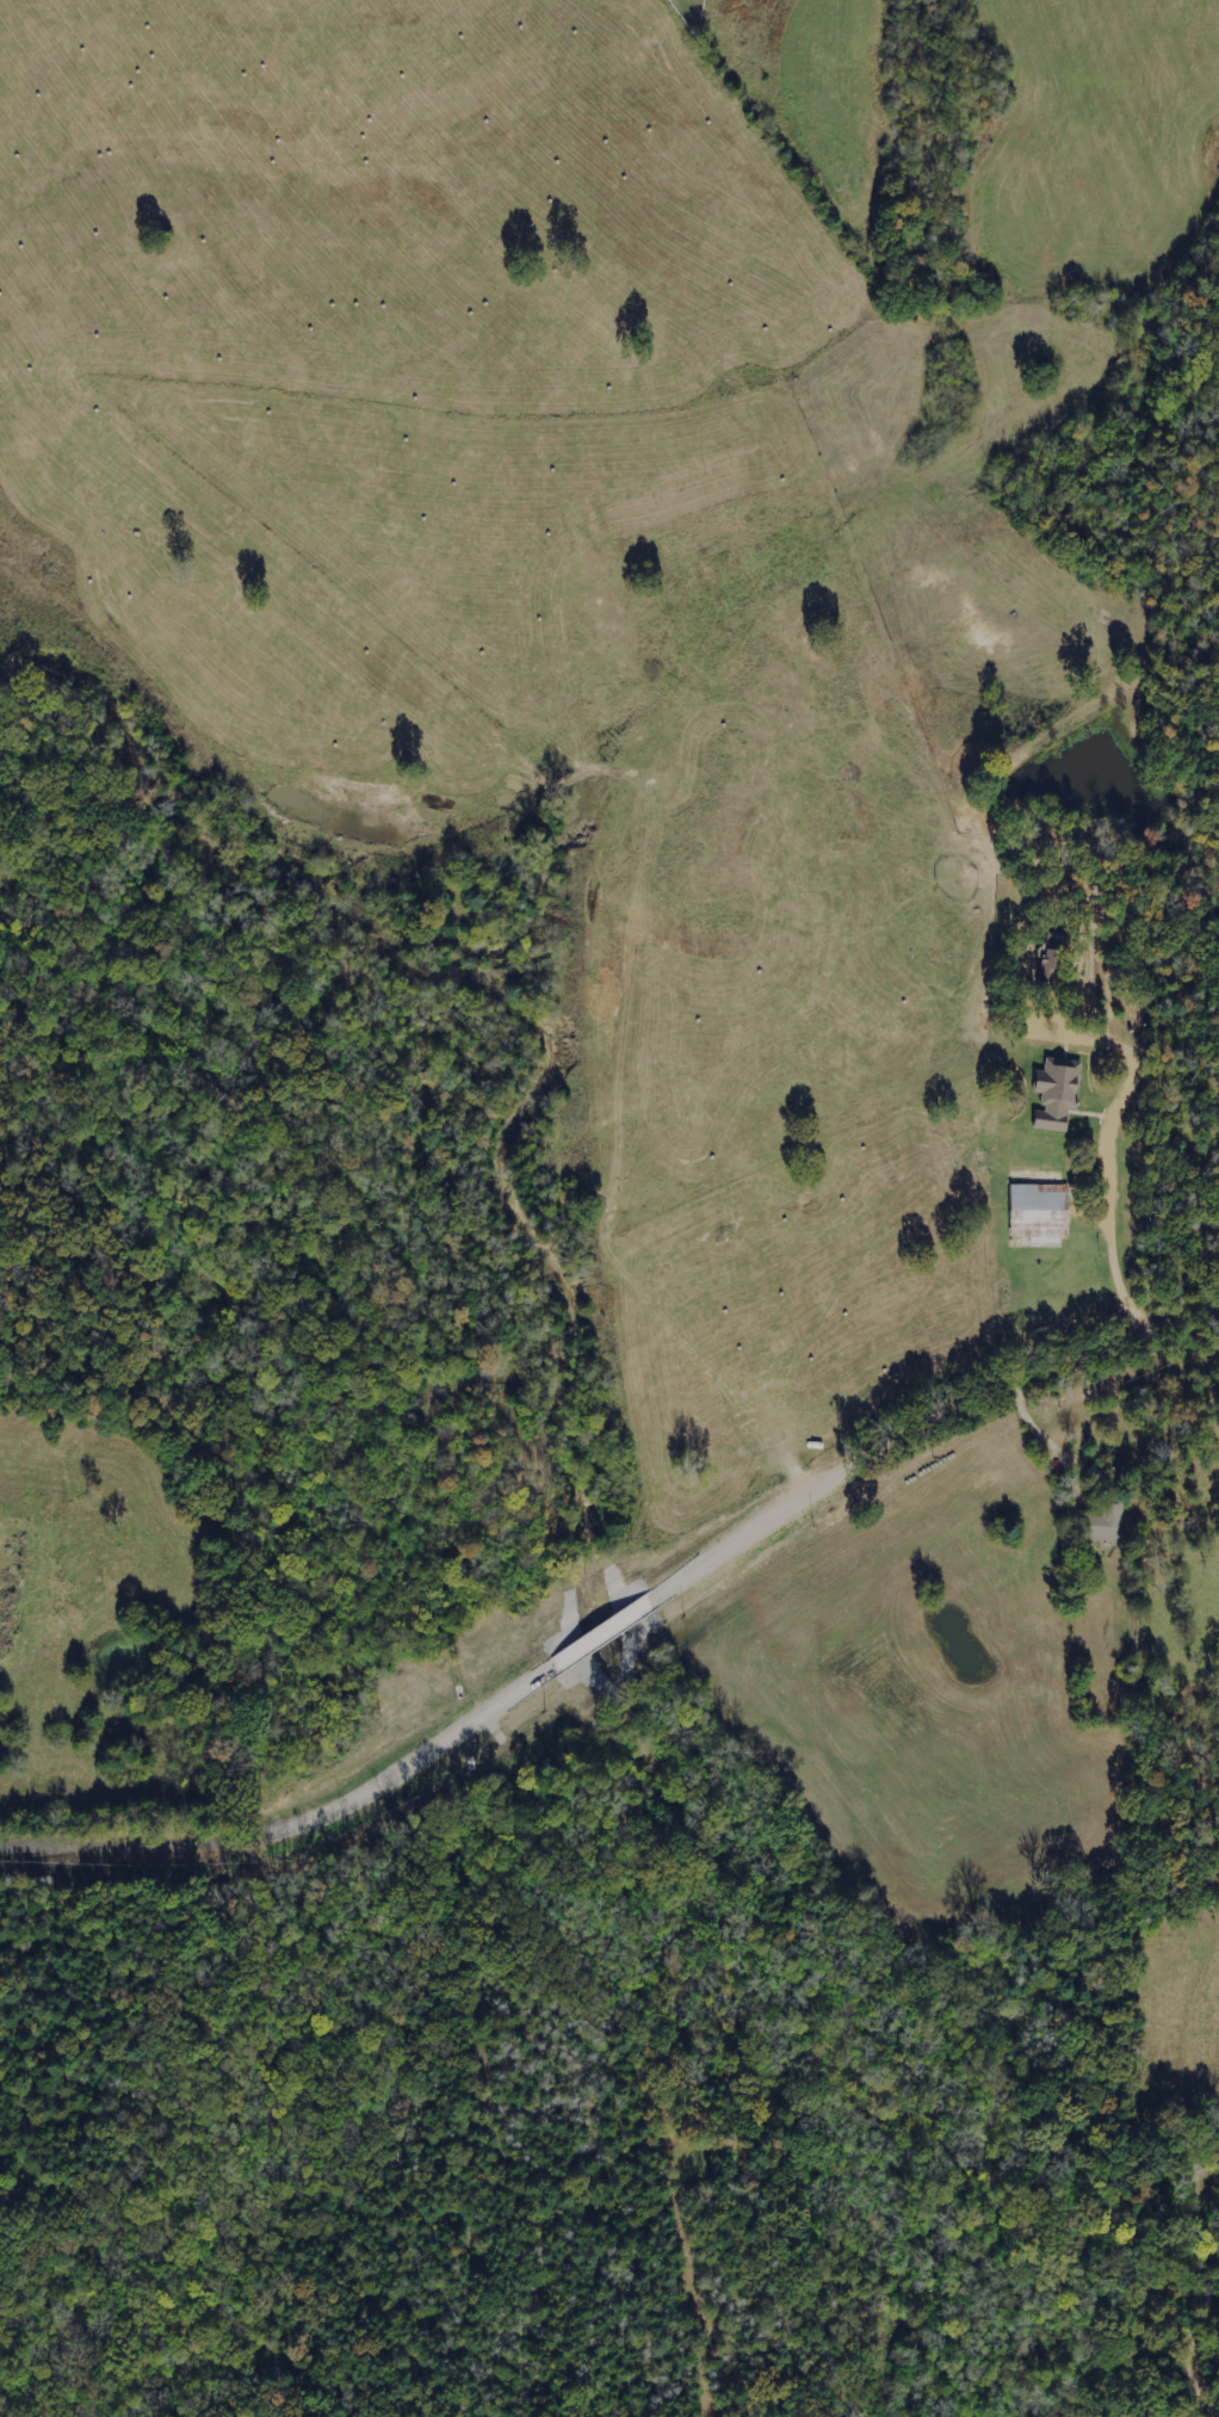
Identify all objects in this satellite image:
building: (1053, 1095)
building: (1037, 1213)
building: (1109, 1523)
road: (633, 1627)

